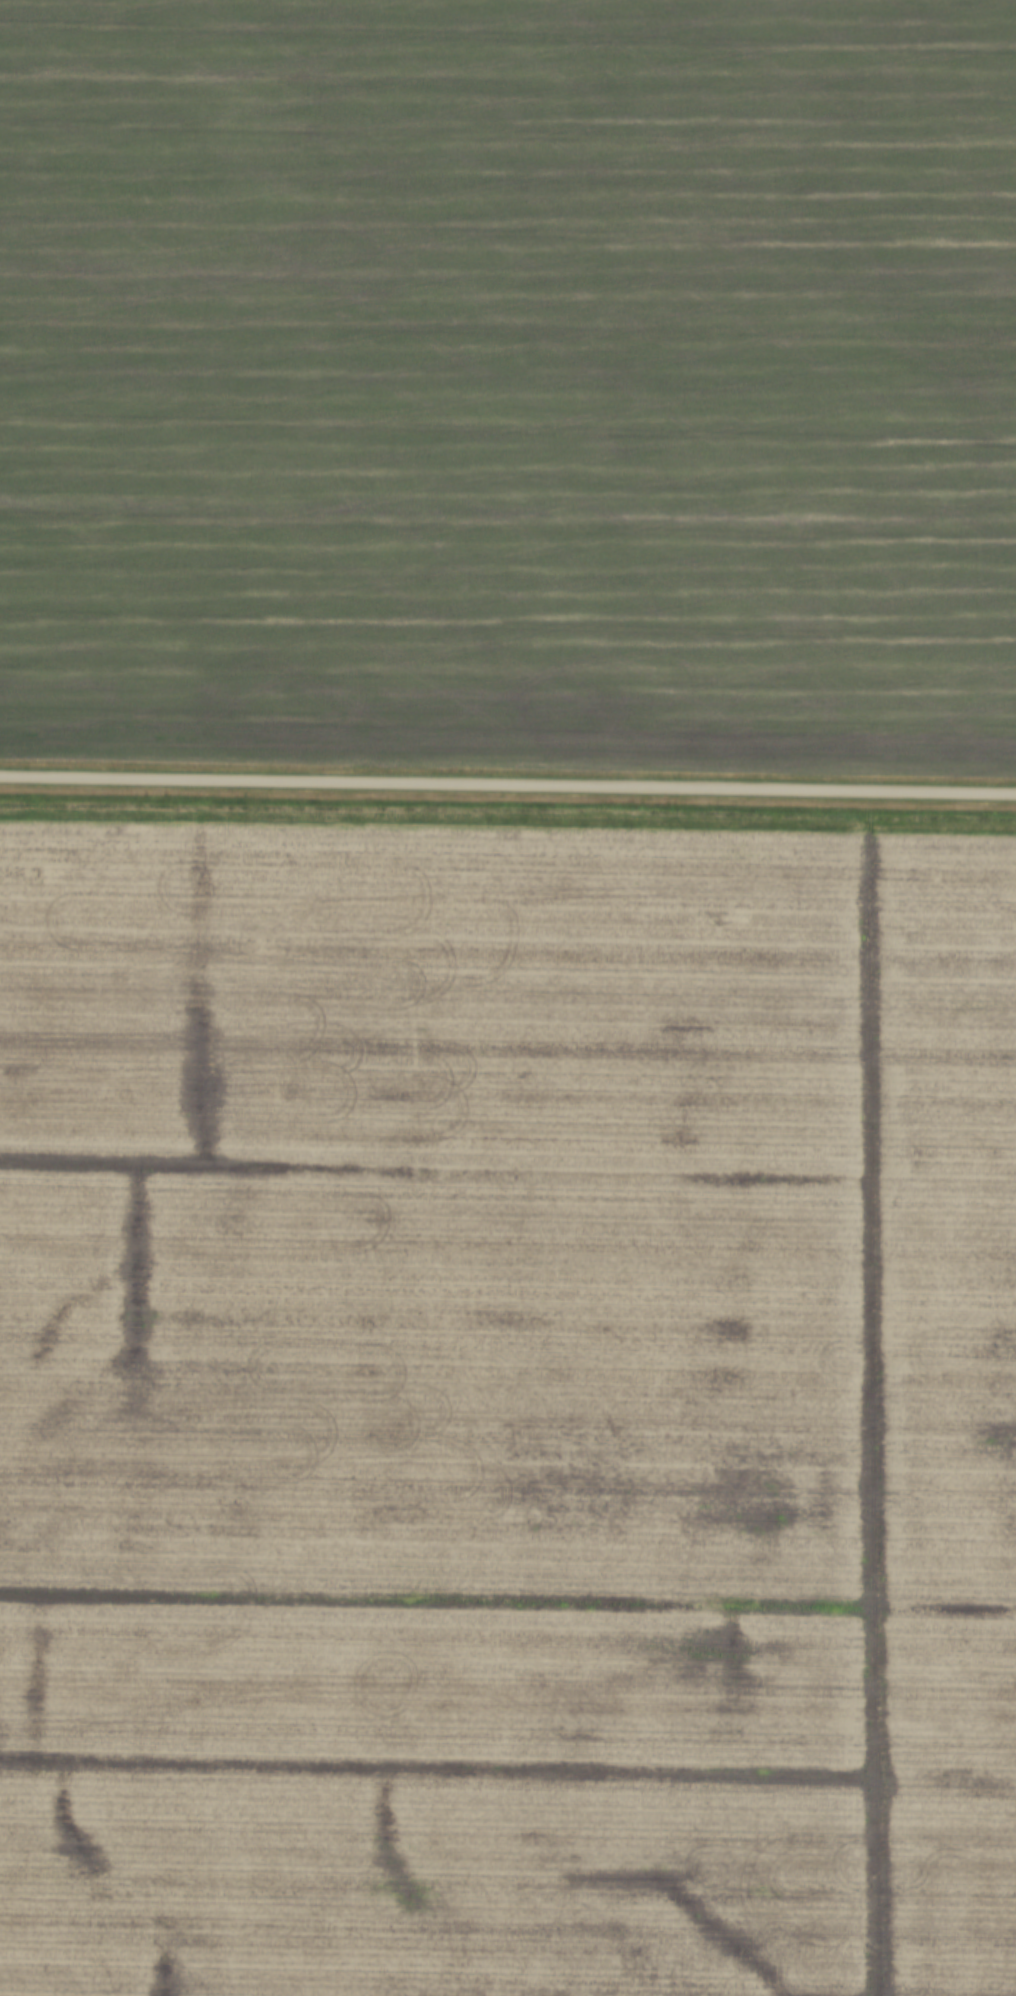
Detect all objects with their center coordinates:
road: (508, 786)

